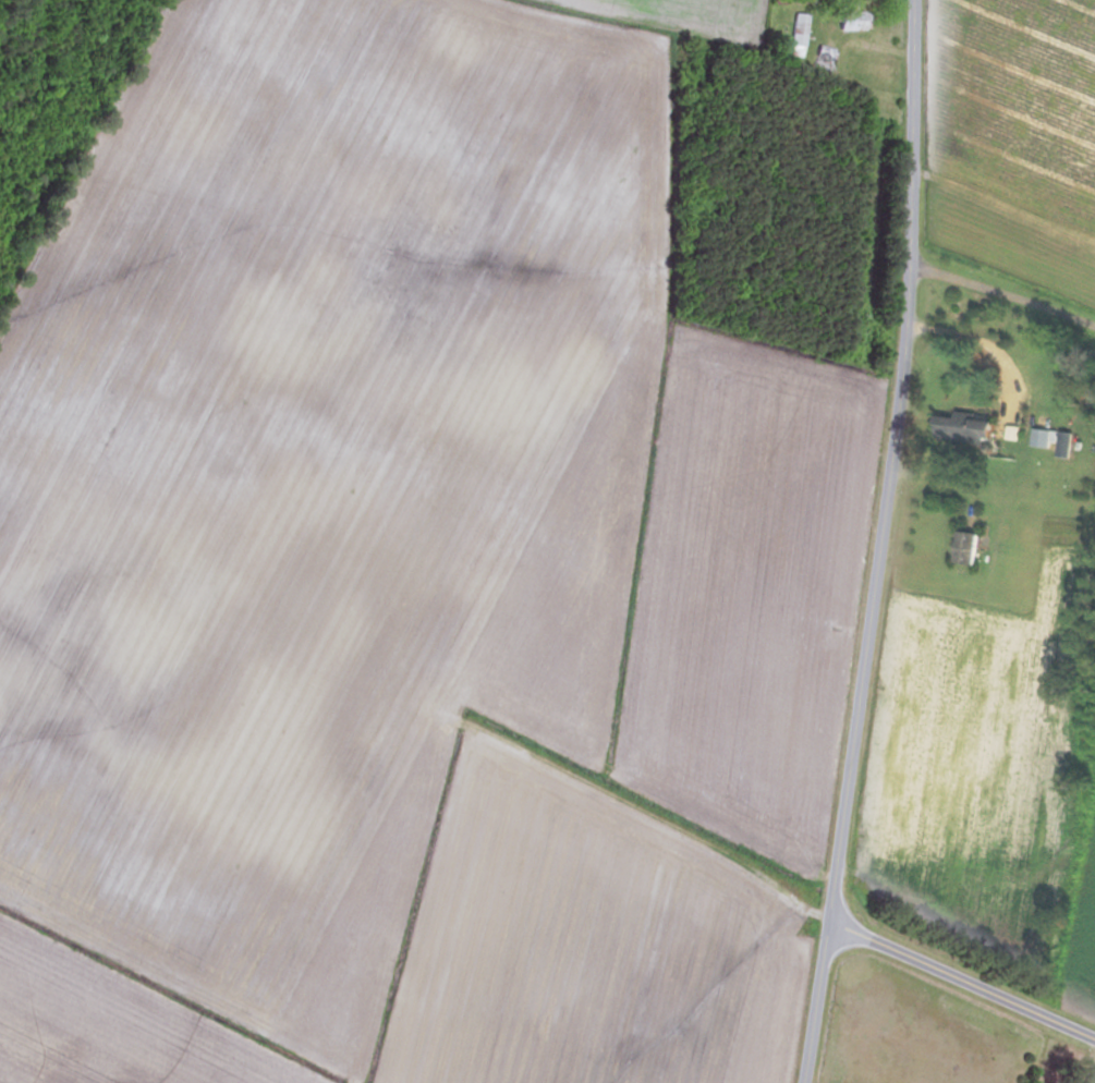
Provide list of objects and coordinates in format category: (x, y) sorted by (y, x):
building: (851, 20)
building: (796, 35)
building: (823, 59)
road: (1001, 300)
building: (965, 427)
road: (879, 543)
building: (966, 547)
road: (961, 983)

